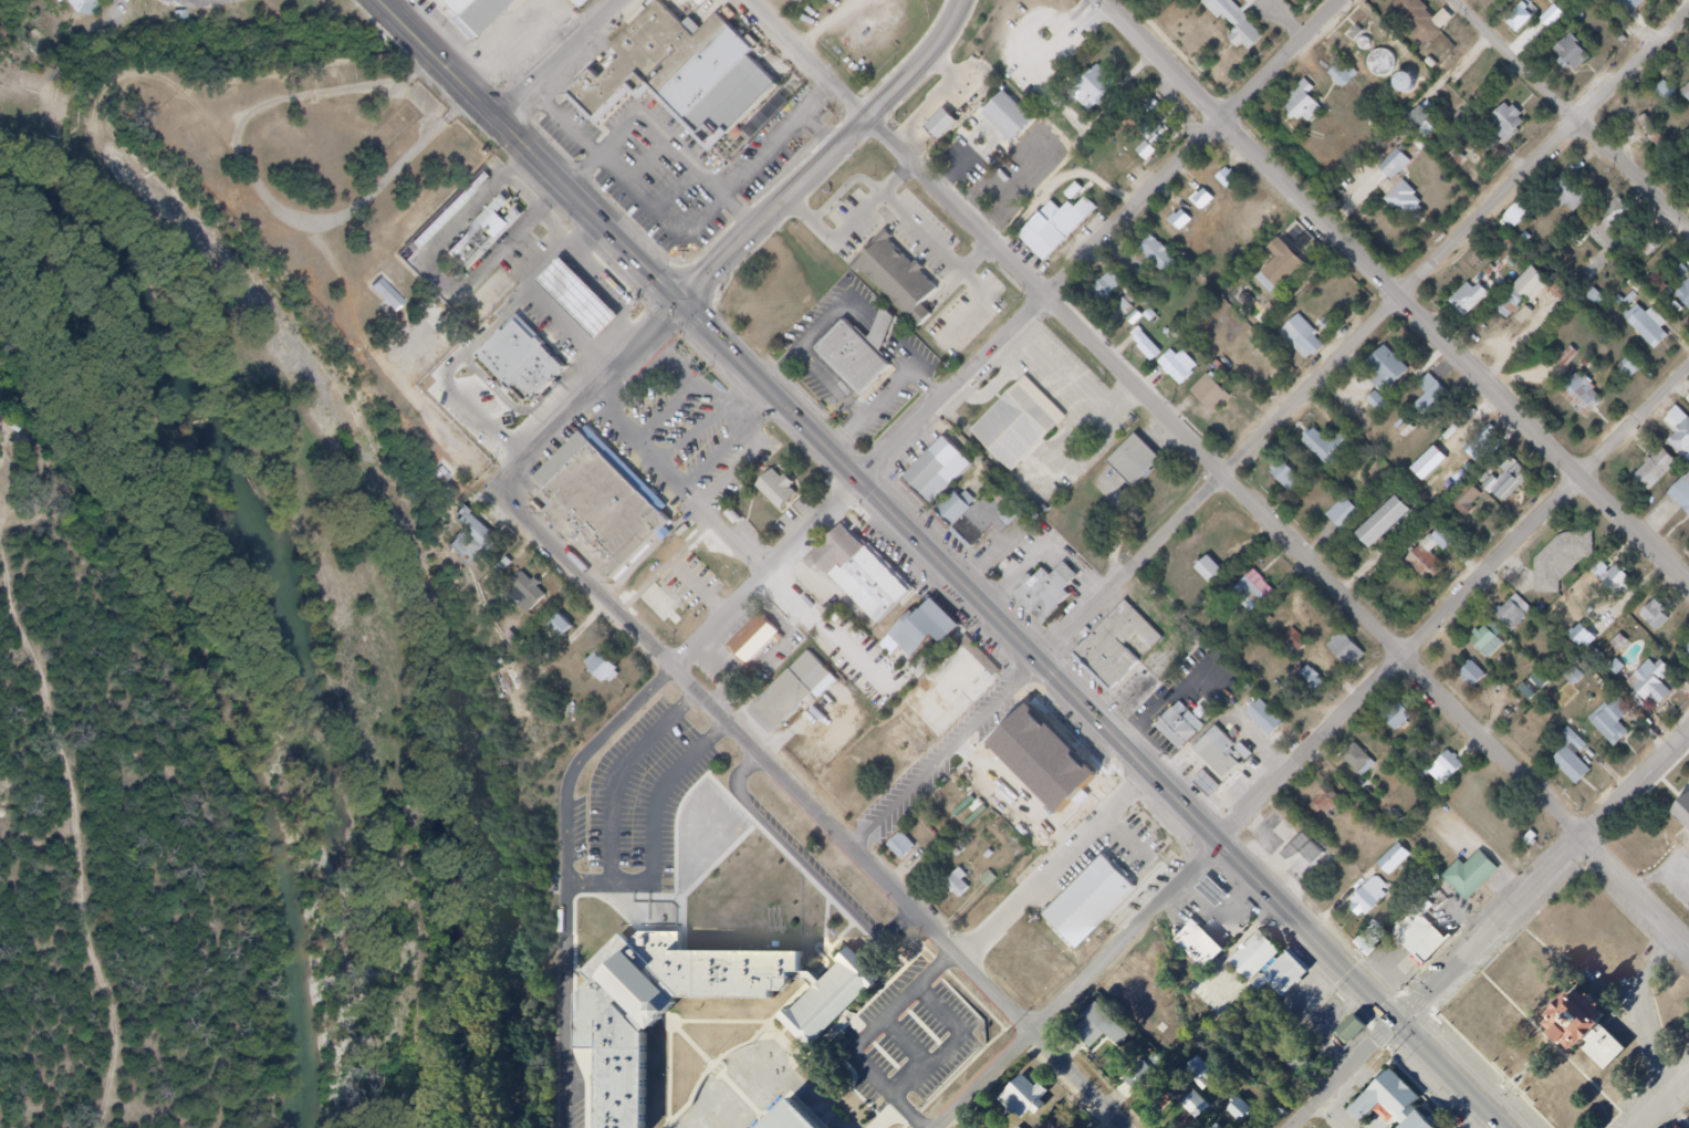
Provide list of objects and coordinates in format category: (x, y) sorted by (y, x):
road: (219, 0)
building: (836, 0)
building: (1292, 0)
building: (583, 2)
building: (1302, 2)
building: (845, 3)
building: (80, 7)
building: (462, 8)
building: (1637, 10)
building: (491, 18)
building: (1526, 22)
building: (1247, 24)
building: (1425, 32)
building: (1366, 41)
building: (1374, 53)
road: (557, 58)
building: (1581, 63)
building: (1391, 72)
building: (678, 73)
building: (1352, 80)
building: (1106, 88)
building: (1666, 92)
building: (1686, 93)
building: (1310, 111)
road: (1573, 113)
building: (1018, 118)
building: (1428, 123)
building: (942, 125)
building: (1514, 126)
building: (1170, 128)
road: (821, 135)
road: (663, 137)
building: (1664, 139)
road: (533, 153)
road: (834, 158)
parking lot: (686, 159)
road: (648, 165)
parking lot: (963, 165)
building: (1396, 166)
road: (953, 173)
building: (1228, 179)
road: (897, 180)
building: (1237, 180)
road: (872, 185)
building: (1000, 188)
road: (257, 189)
road: (677, 192)
road: (524, 195)
building: (1577, 198)
building: (1202, 200)
road: (835, 201)
building: (1212, 201)
building: (449, 210)
building: (1412, 210)
building: (1083, 216)
building: (1516, 217)
building: (1179, 220)
building: (1190, 220)
building: (1623, 221)
parking lot: (855, 223)
building: (484, 232)
road: (922, 234)
parking lot: (925, 237)
building: (1053, 239)
road: (681, 240)
road: (836, 240)
building: (1164, 251)
building: (1668, 255)
road: (977, 259)
building: (1290, 264)
road: (439, 280)
building: (898, 280)
building: (596, 289)
road: (1394, 291)
building: (1120, 293)
building: (1524, 293)
building: (388, 296)
building: (1687, 302)
traffic signals: (681, 304)
building: (1476, 304)
road: (980, 305)
building: (1254, 305)
building: (590, 306)
gas station: (590, 306)
parking lot: (969, 314)
building: (571, 325)
building: (435, 333)
building: (1658, 333)
road: (820, 334)
road: (1012, 337)
building: (1313, 337)
building: (1156, 345)
building: (1147, 347)
building: (858, 355)
building: (1222, 365)
building: (1189, 366)
building: (531, 367)
building: (1266, 367)
building: (1630, 368)
building: (1396, 375)
road: (835, 386)
road: (930, 389)
road: (896, 391)
road: (591, 393)
building: (1219, 395)
road: (718, 398)
building: (1438, 400)
building: (1592, 401)
building: (1378, 403)
road: (669, 410)
building: (1019, 425)
road: (1270, 431)
road: (691, 435)
parking lot: (688, 436)
building: (1490, 441)
building: (1685, 447)
building: (1336, 449)
road: (716, 459)
building: (1134, 460)
road: (1218, 472)
building: (926, 473)
building: (1664, 477)
building: (1297, 481)
building: (447, 482)
building: (1513, 484)
road: (680, 487)
building: (779, 489)
building: (1685, 502)
building: (596, 503)
building: (1467, 504)
building: (963, 512)
building: (1345, 515)
building: (1385, 522)
building: (990, 524)
building: (1394, 530)
building: (484, 541)
building: (848, 556)
building: (1422, 556)
building: (1570, 567)
building: (1442, 568)
building: (1220, 573)
river: (289, 585)
building: (1269, 588)
building: (1625, 591)
building: (1047, 593)
building: (1258, 593)
building: (885, 594)
building: (538, 599)
building: (1666, 623)
building: (1521, 624)
building: (562, 626)
building: (570, 633)
building: (936, 634)
building: (1583, 638)
building: (1133, 646)
building: (1686, 647)
building: (1497, 649)
building: (1356, 652)
building: (612, 671)
building: (1473, 675)
building: (1575, 678)
building: (1318, 679)
building: (1541, 681)
building: (1484, 682)
building: (793, 689)
building: (1661, 691)
building: (956, 697)
parking lot: (841, 700)
road: (1095, 713)
building: (1266, 719)
building: (1405, 719)
building: (1612, 723)
building: (1187, 724)
building: (1626, 735)
road: (1310, 752)
building: (1042, 753)
building: (1219, 753)
building: (1368, 763)
building: (1578, 763)
building: (1455, 772)
building: (1209, 784)
building: (1237, 787)
road: (83, 798)
building: (1338, 802)
road: (813, 806)
parking lot: (646, 808)
building: (953, 812)
building: (1683, 813)
building: (941, 822)
building: (1094, 824)
building: (1300, 840)
building: (913, 854)
building: (1397, 859)
road: (809, 863)
road: (1061, 868)
road: (1662, 868)
road: (571, 877)
building: (1480, 879)
parking lot: (1675, 879)
road: (618, 884)
building: (1391, 885)
building: (966, 887)
building: (1223, 897)
gas station: (1223, 897)
building: (1101, 908)
road: (1489, 932)
building: (1421, 933)
building: (1378, 941)
building: (1598, 943)
building: (1207, 947)
building: (1261, 957)
road: (1574, 969)
building: (1290, 981)
road: (1652, 1013)
parking lot: (1655, 1014)
traffic signals: (1398, 1021)
parking lot: (919, 1030)
building: (1112, 1030)
building: (1356, 1030)
building: (1589, 1030)
building: (624, 1032)
road: (866, 1038)
road: (907, 1042)
road: (951, 1042)
road: (1557, 1044)
road: (1541, 1066)
building: (1310, 1067)
building: (1208, 1075)
building: (1139, 1077)
building: (1391, 1101)
building: (1032, 1103)
building: (1192, 1103)
road: (1667, 1106)
building: (1203, 1109)
building: (1248, 1113)
building: (795, 1119)
building: (1068, 1122)
building: (1224, 1126)
building: (1212, 1127)
building: (1678, 1127)

